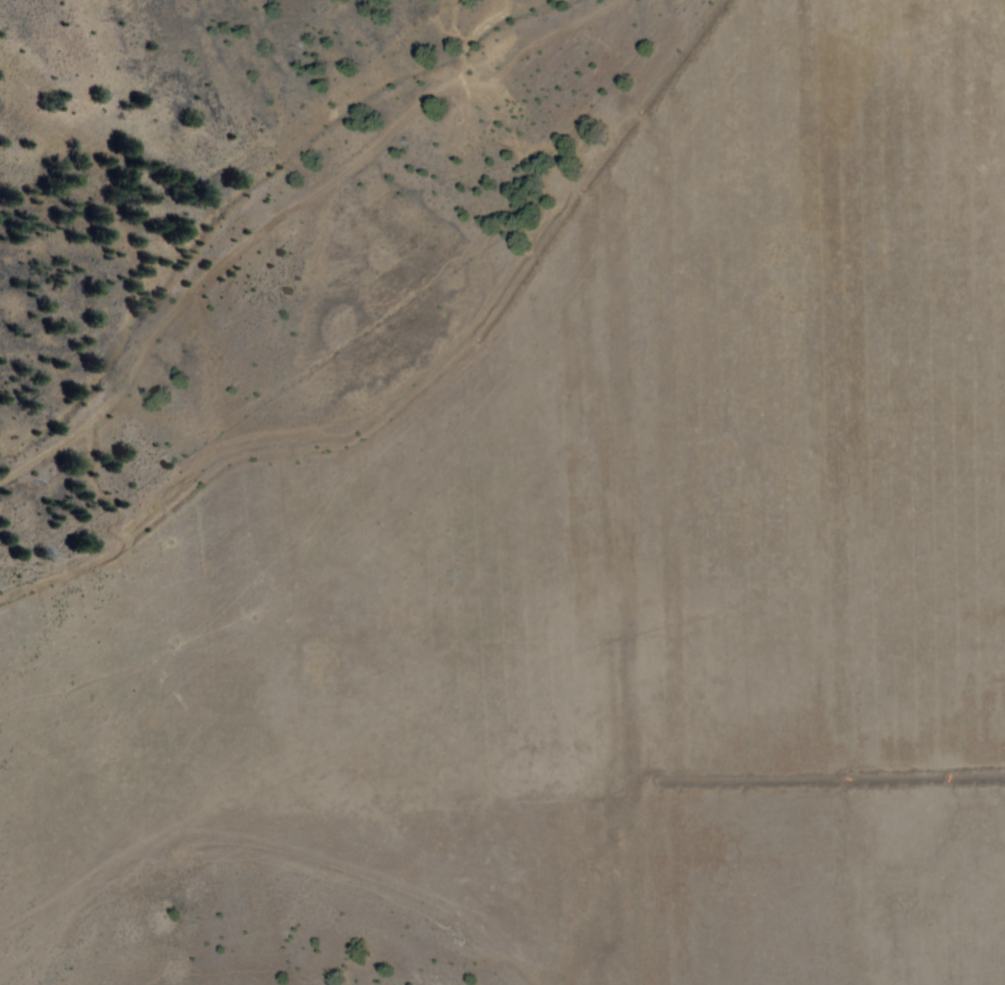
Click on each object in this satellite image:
road: (287, 211)

